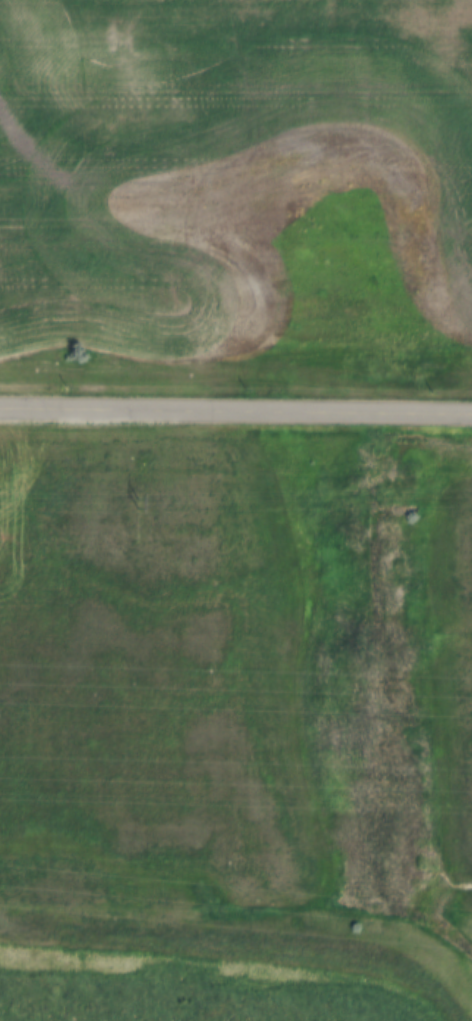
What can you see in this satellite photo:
road: (235, 411)
power tower: (132, 501)

